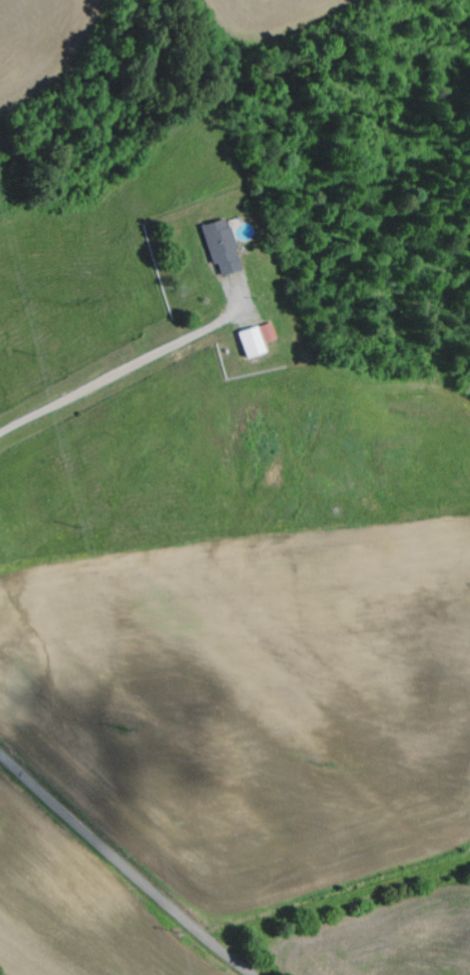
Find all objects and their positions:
building: (226, 248)
building: (260, 340)
road: (123, 867)

